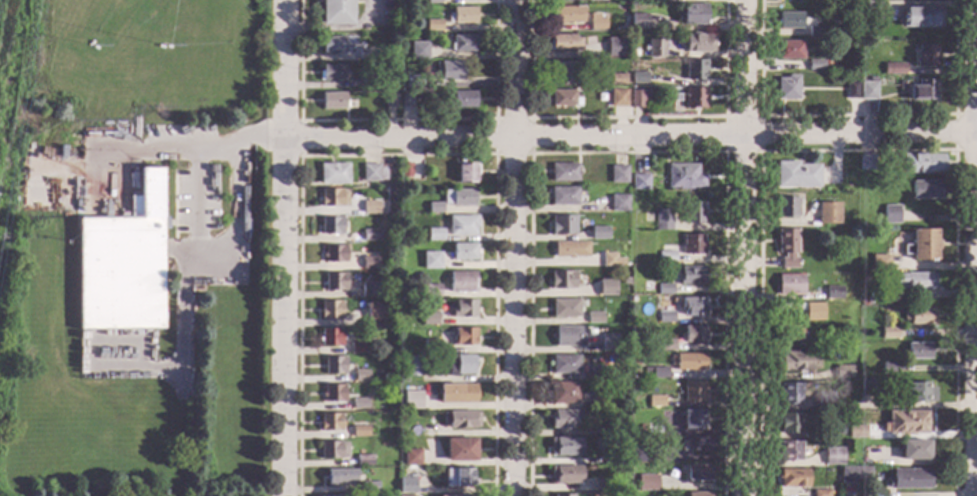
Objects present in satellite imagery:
building: (596, 0)
building: (660, 0)
building: (433, 1)
building: (872, 7)
building: (336, 12)
building: (693, 14)
building: (565, 15)
building: (461, 16)
building: (921, 17)
building: (597, 21)
building: (637, 21)
building: (789, 21)
building: (433, 25)
building: (815, 31)
building: (391, 37)
building: (564, 42)
building: (89, 43)
building: (462, 43)
building: (697, 43)
building: (332, 45)
building: (157, 46)
building: (614, 47)
building: (655, 48)
building: (788, 50)
building: (418, 51)
building: (633, 52)
building: (369, 53)
building: (925, 55)
building: (815, 65)
building: (894, 68)
building: (564, 70)
building: (694, 70)
building: (448, 71)
building: (331, 73)
building: (638, 78)
building: (616, 79)
building: (369, 81)
building: (412, 81)
building: (787, 88)
building: (868, 89)
building: (581, 90)
building: (851, 90)
building: (923, 90)
building: (563, 98)
building: (617, 98)
building: (637, 98)
building: (694, 98)
building: (406, 99)
building: (461, 99)
building: (390, 100)
building: (332, 101)
road: (857, 116)
road: (725, 117)
road: (955, 133)
road: (634, 138)
road: (193, 147)
road: (857, 151)
building: (866, 163)
building: (922, 163)
building: (405, 170)
building: (373, 172)
building: (466, 173)
building: (563, 173)
building: (333, 174)
building: (618, 174)
building: (796, 174)
building: (684, 177)
building: (639, 182)
building: (927, 189)
building: (563, 196)
building: (458, 197)
building: (333, 198)
building: (618, 203)
building: (370, 207)
building: (434, 207)
building: (786, 207)
building: (693, 212)
building: (827, 213)
building: (891, 214)
building: (662, 220)
building: (461, 225)
building: (562, 225)
building: (330, 226)
building: (598, 233)
building: (433, 234)
building: (370, 235)
building: (691, 244)
building: (922, 245)
road: (290, 247)
road: (514, 247)
building: (787, 247)
road: (744, 248)
road: (974, 248)
building: (569, 249)
building: (462, 251)
building: (334, 254)
road: (190, 256)
building: (666, 257)
building: (429, 260)
building: (609, 260)
building: (369, 263)
building: (880, 263)
building: (122, 264)
building: (690, 276)
building: (561, 280)
building: (334, 281)
building: (916, 281)
building: (461, 282)
building: (789, 284)
building: (605, 287)
building: (369, 289)
building: (665, 289)
building: (430, 291)
building: (833, 293)
building: (876, 296)
building: (864, 302)
building: (692, 306)
building: (564, 308)
building: (330, 309)
building: (462, 309)
building: (813, 311)
building: (376, 312)
building: (917, 316)
building: (665, 317)
building: (428, 318)
building: (593, 318)
building: (785, 332)
building: (804, 332)
building: (889, 333)
building: (693, 334)
building: (463, 336)
building: (568, 336)
building: (330, 337)
building: (606, 342)
building: (805, 342)
building: (665, 344)
building: (429, 345)
building: (357, 348)
building: (918, 351)
building: (795, 361)
building: (689, 362)
building: (563, 364)
building: (333, 365)
building: (458, 365)
building: (411, 366)
building: (889, 368)
building: (654, 372)
building: (843, 372)
building: (592, 373)
building: (361, 375)
building: (383, 377)
building: (639, 387)
building: (867, 387)
building: (692, 391)
building: (920, 392)
building: (333, 393)
building: (562, 393)
building: (789, 393)
building: (456, 394)
building: (622, 394)
building: (411, 400)
building: (599, 400)
building: (824, 400)
building: (655, 401)
building: (359, 403)
building: (403, 416)
building: (461, 419)
building: (563, 419)
building: (693, 419)
building: (329, 422)
building: (905, 422)
building: (789, 423)
building: (651, 428)
building: (834, 428)
building: (616, 430)
building: (360, 431)
building: (856, 431)
building: (651, 443)
building: (701, 443)
building: (564, 447)
building: (332, 450)
building: (459, 450)
building: (789, 450)
building: (914, 450)
building: (640, 456)
building: (833, 456)
building: (872, 456)
building: (410, 457)
building: (617, 459)
building: (363, 460)
building: (699, 472)
building: (565, 474)
building: (854, 475)
building: (339, 476)
building: (458, 478)
building: (793, 478)
building: (908, 479)
building: (647, 483)
building: (601, 485)
building: (406, 486)
building: (369, 487)
building: (821, 493)
building: (698, 494)
building: (562, 495)

